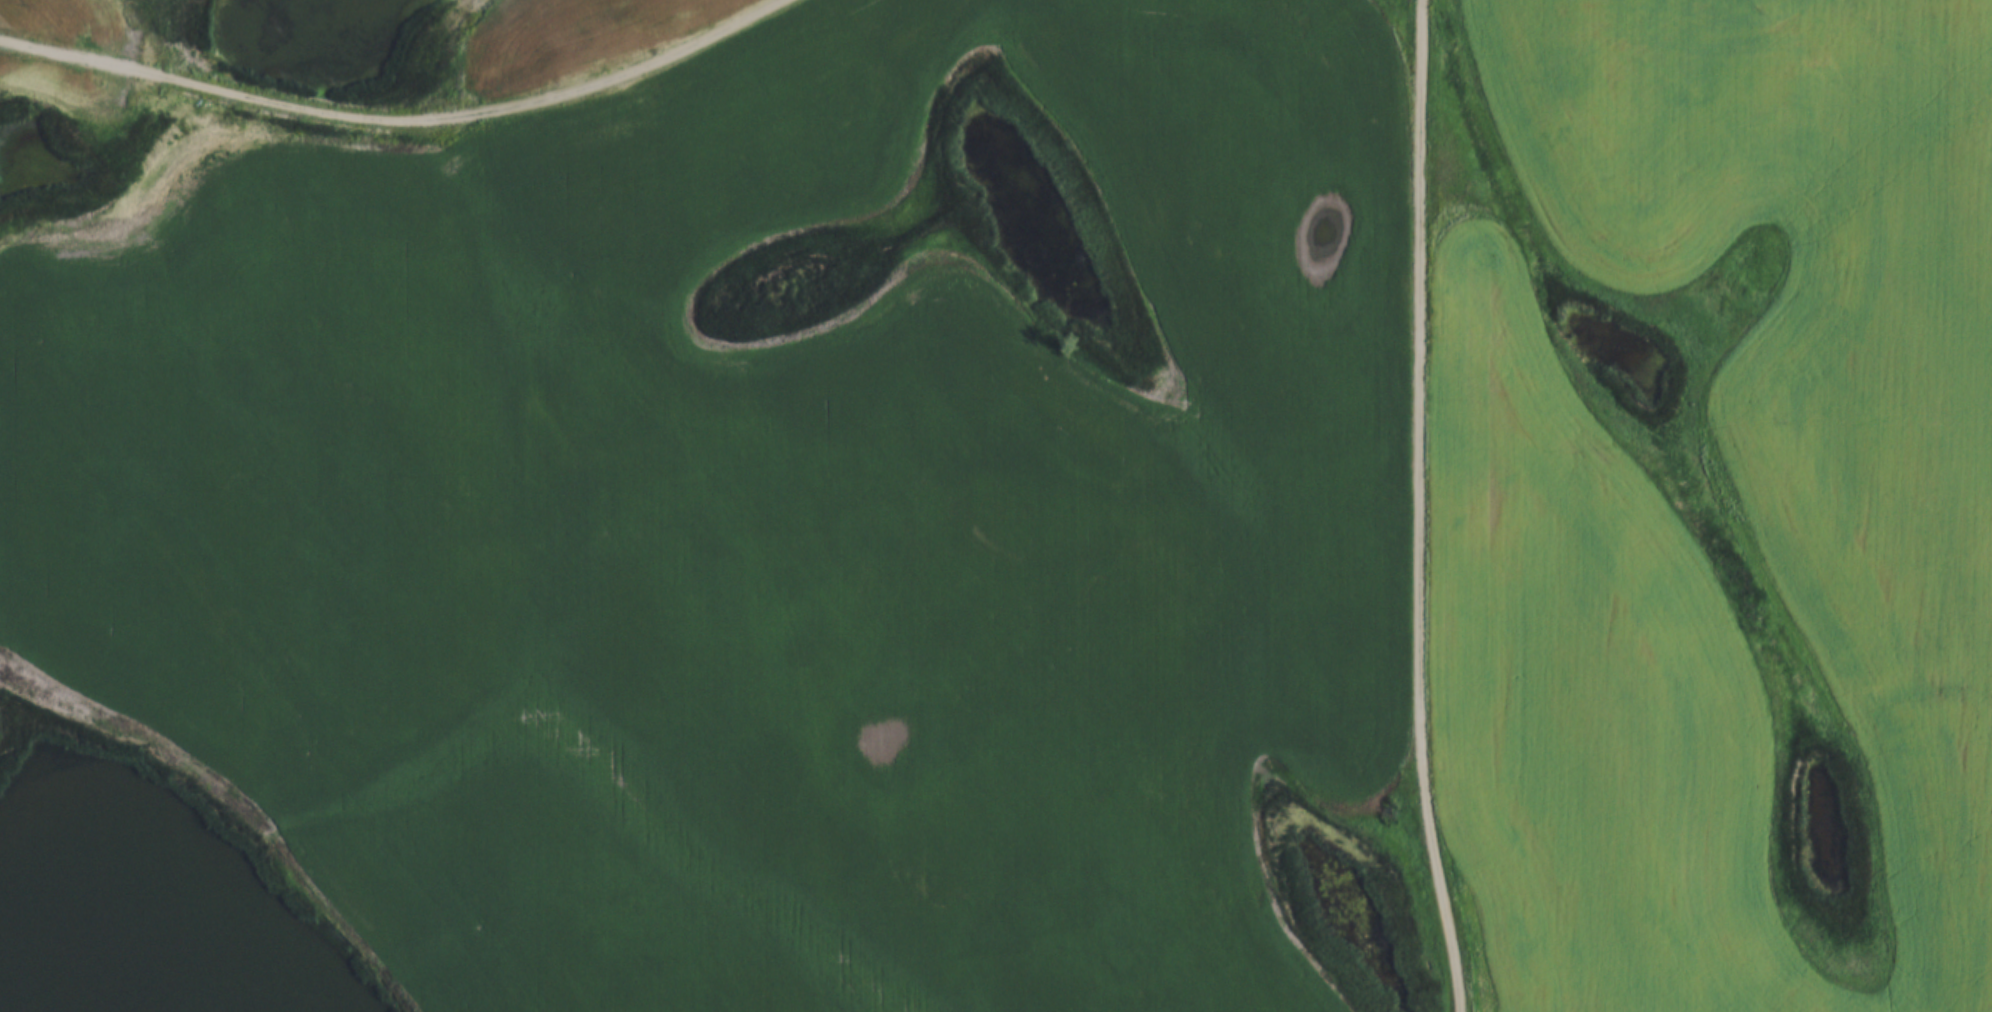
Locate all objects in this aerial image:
road: (372, 118)
road: (1419, 507)

